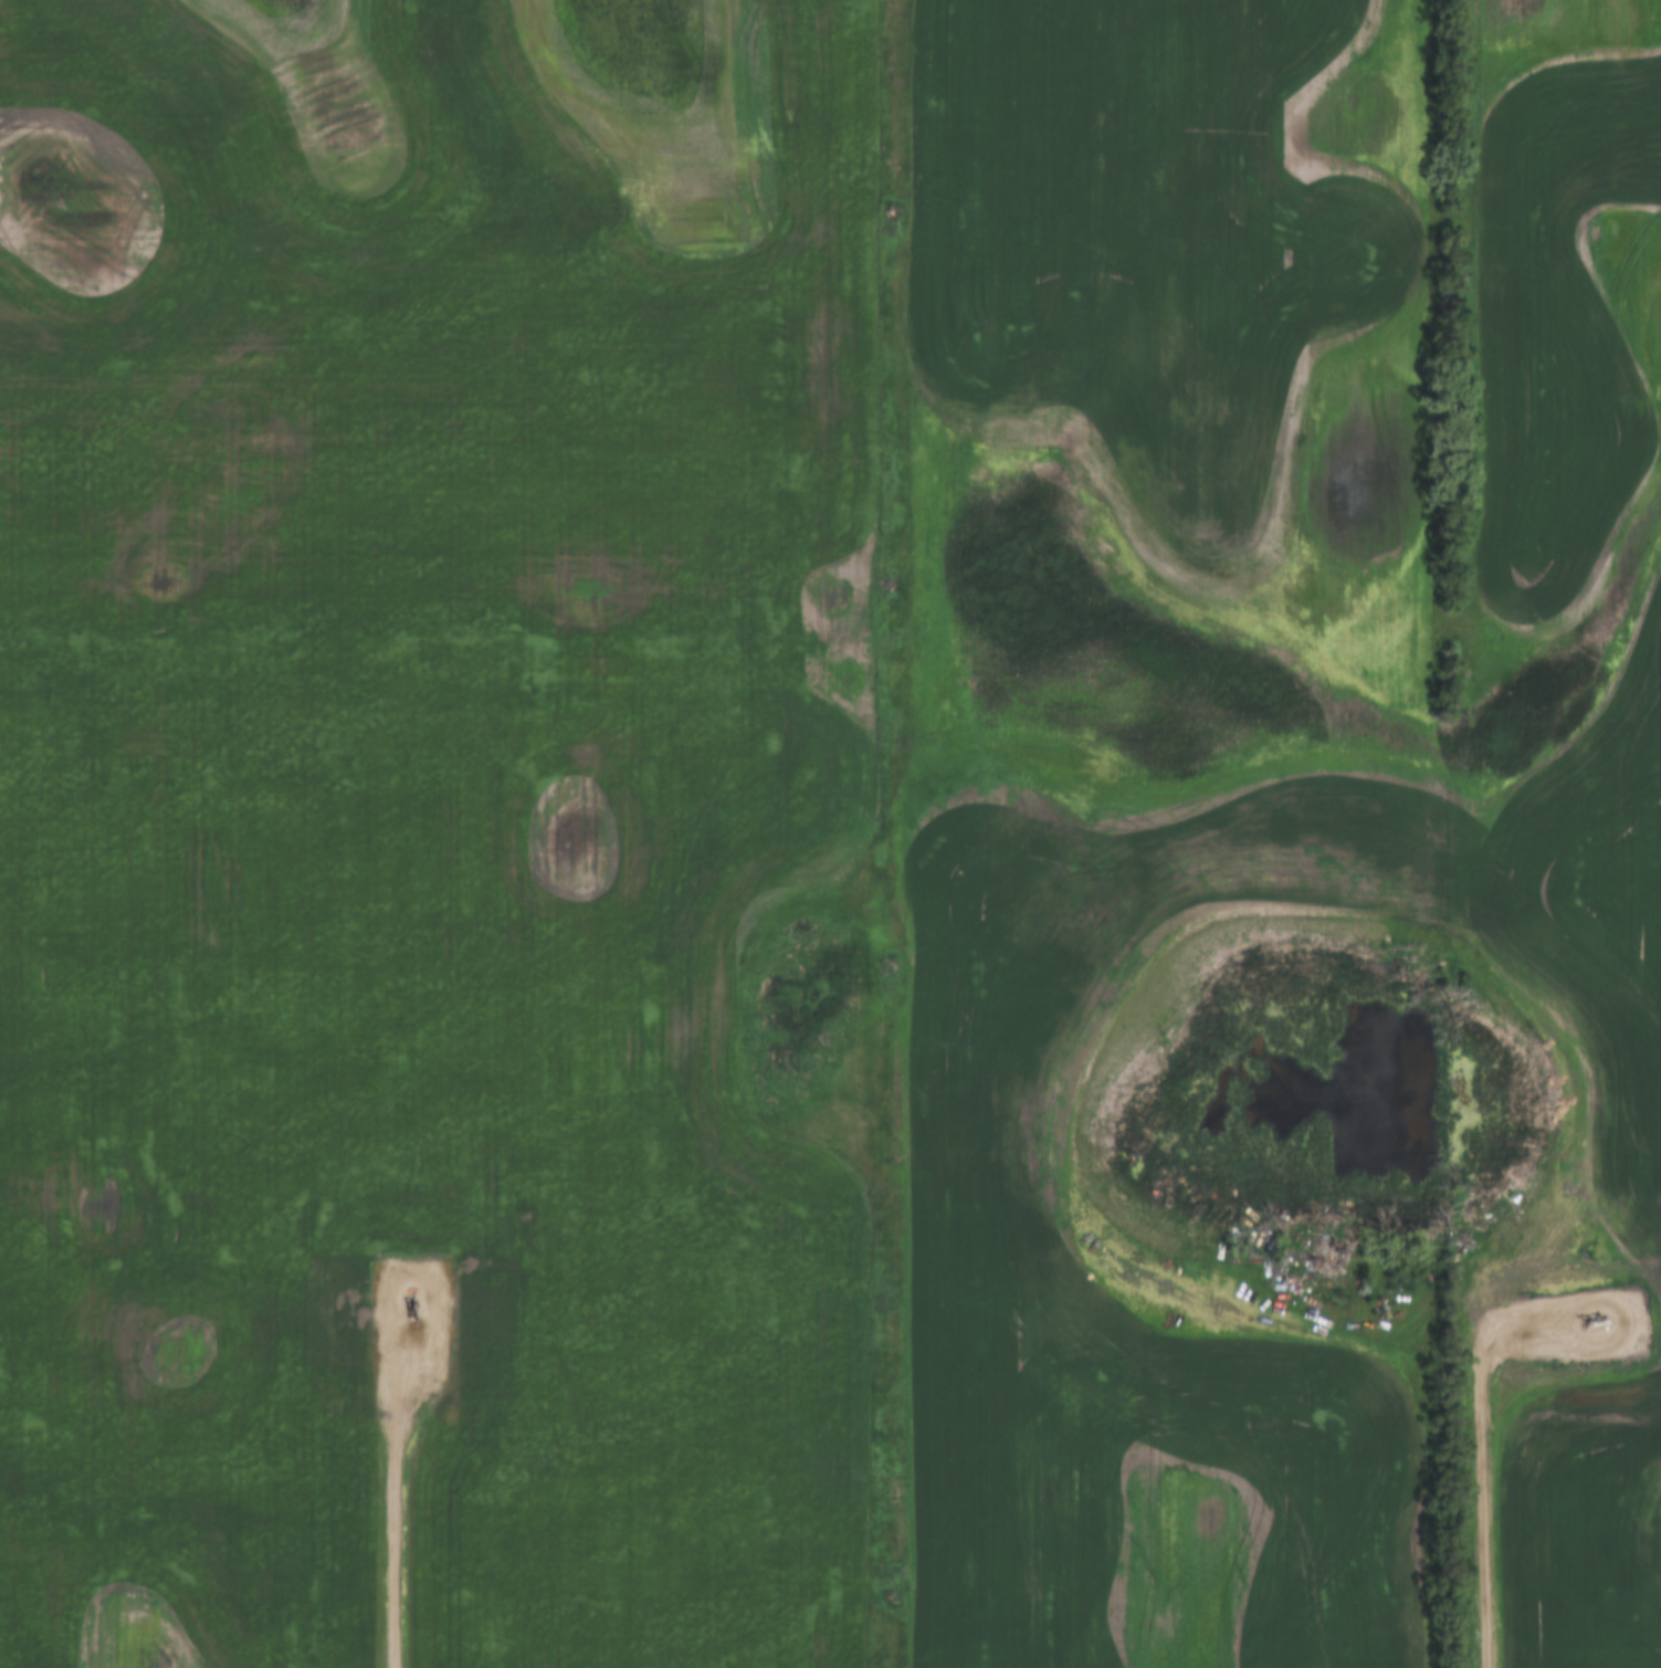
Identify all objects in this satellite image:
road: (1470, 1477)

